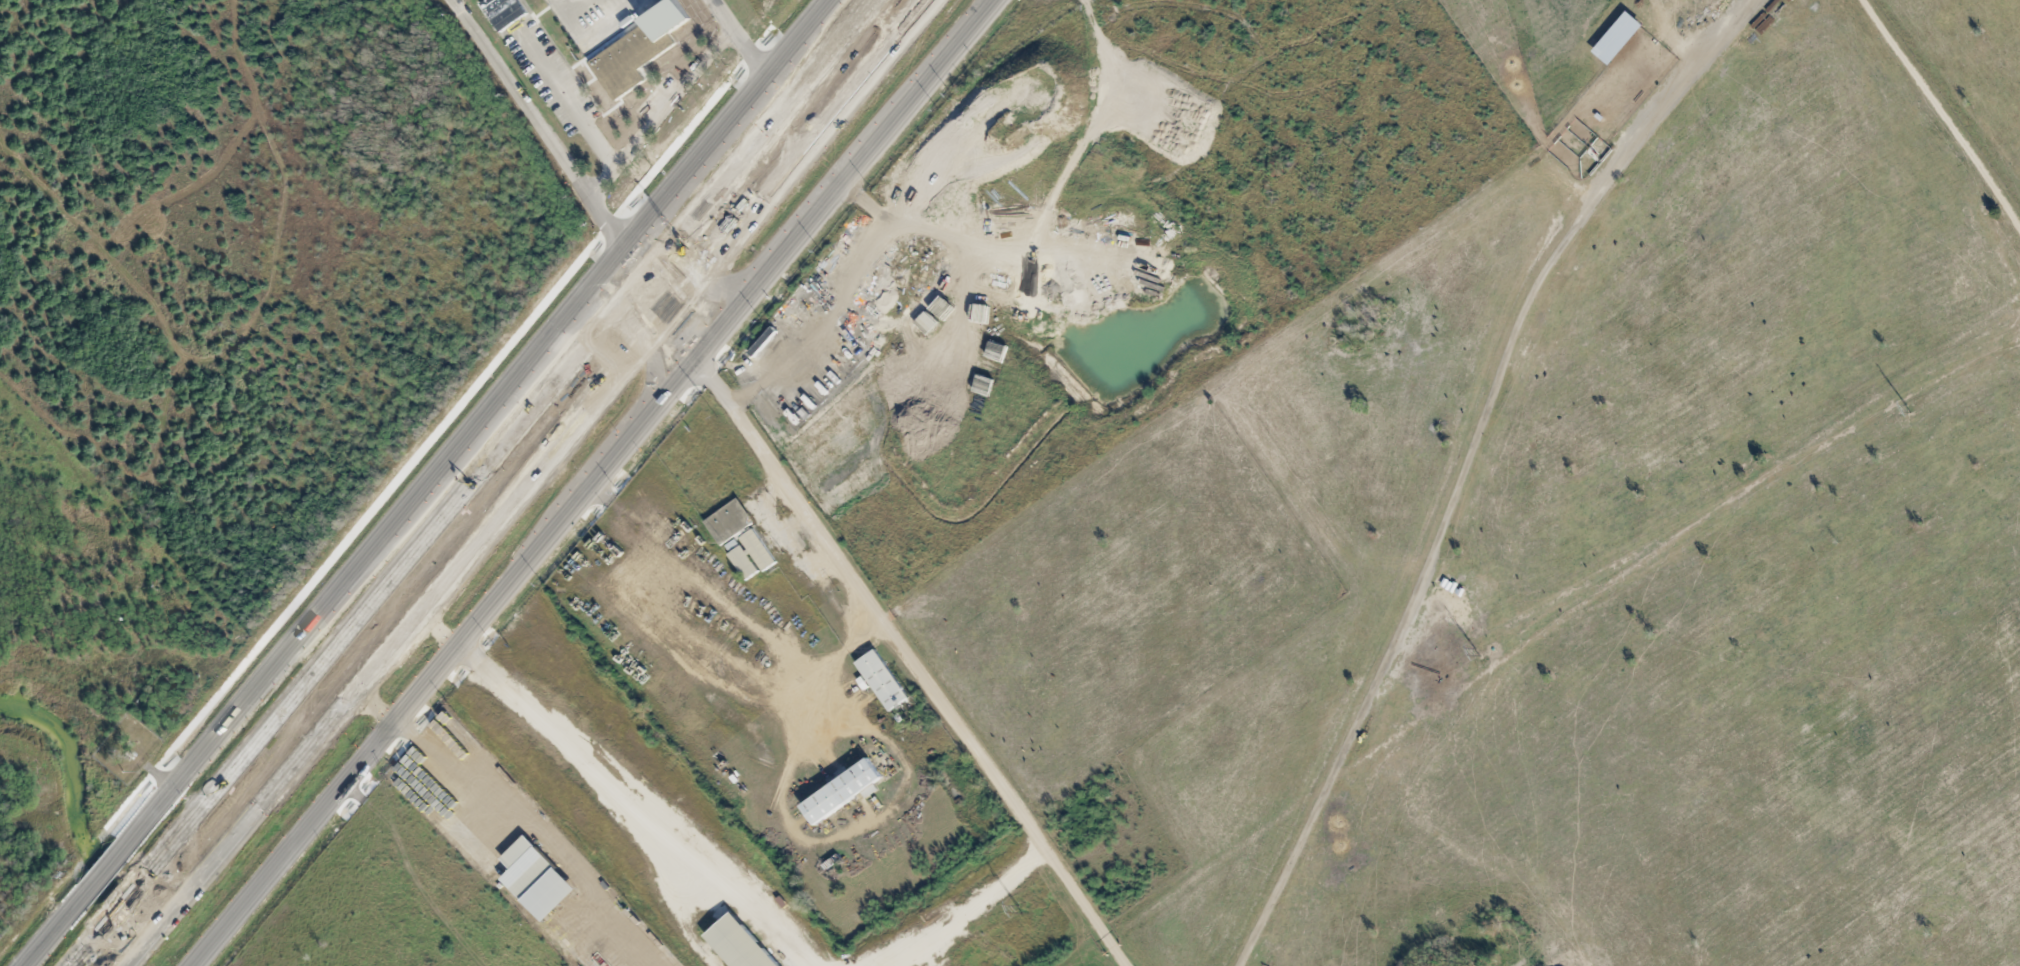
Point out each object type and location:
building: (505, 11)
building: (1620, 38)
building: (636, 48)
road: (784, 112)
road: (817, 121)
road: (543, 122)
road: (703, 280)
road: (642, 288)
road: (662, 304)
road: (642, 330)
power tower: (1912, 416)
road: (477, 426)
road: (1462, 460)
road: (599, 482)
building: (730, 522)
building: (759, 550)
building: (742, 559)
road: (880, 606)
power tower: (1476, 653)
road: (337, 658)
road: (365, 665)
building: (885, 679)
building: (458, 736)
building: (846, 791)
road: (100, 878)
building: (537, 880)
power tower: (1019, 910)
road: (52, 935)
building: (743, 945)

